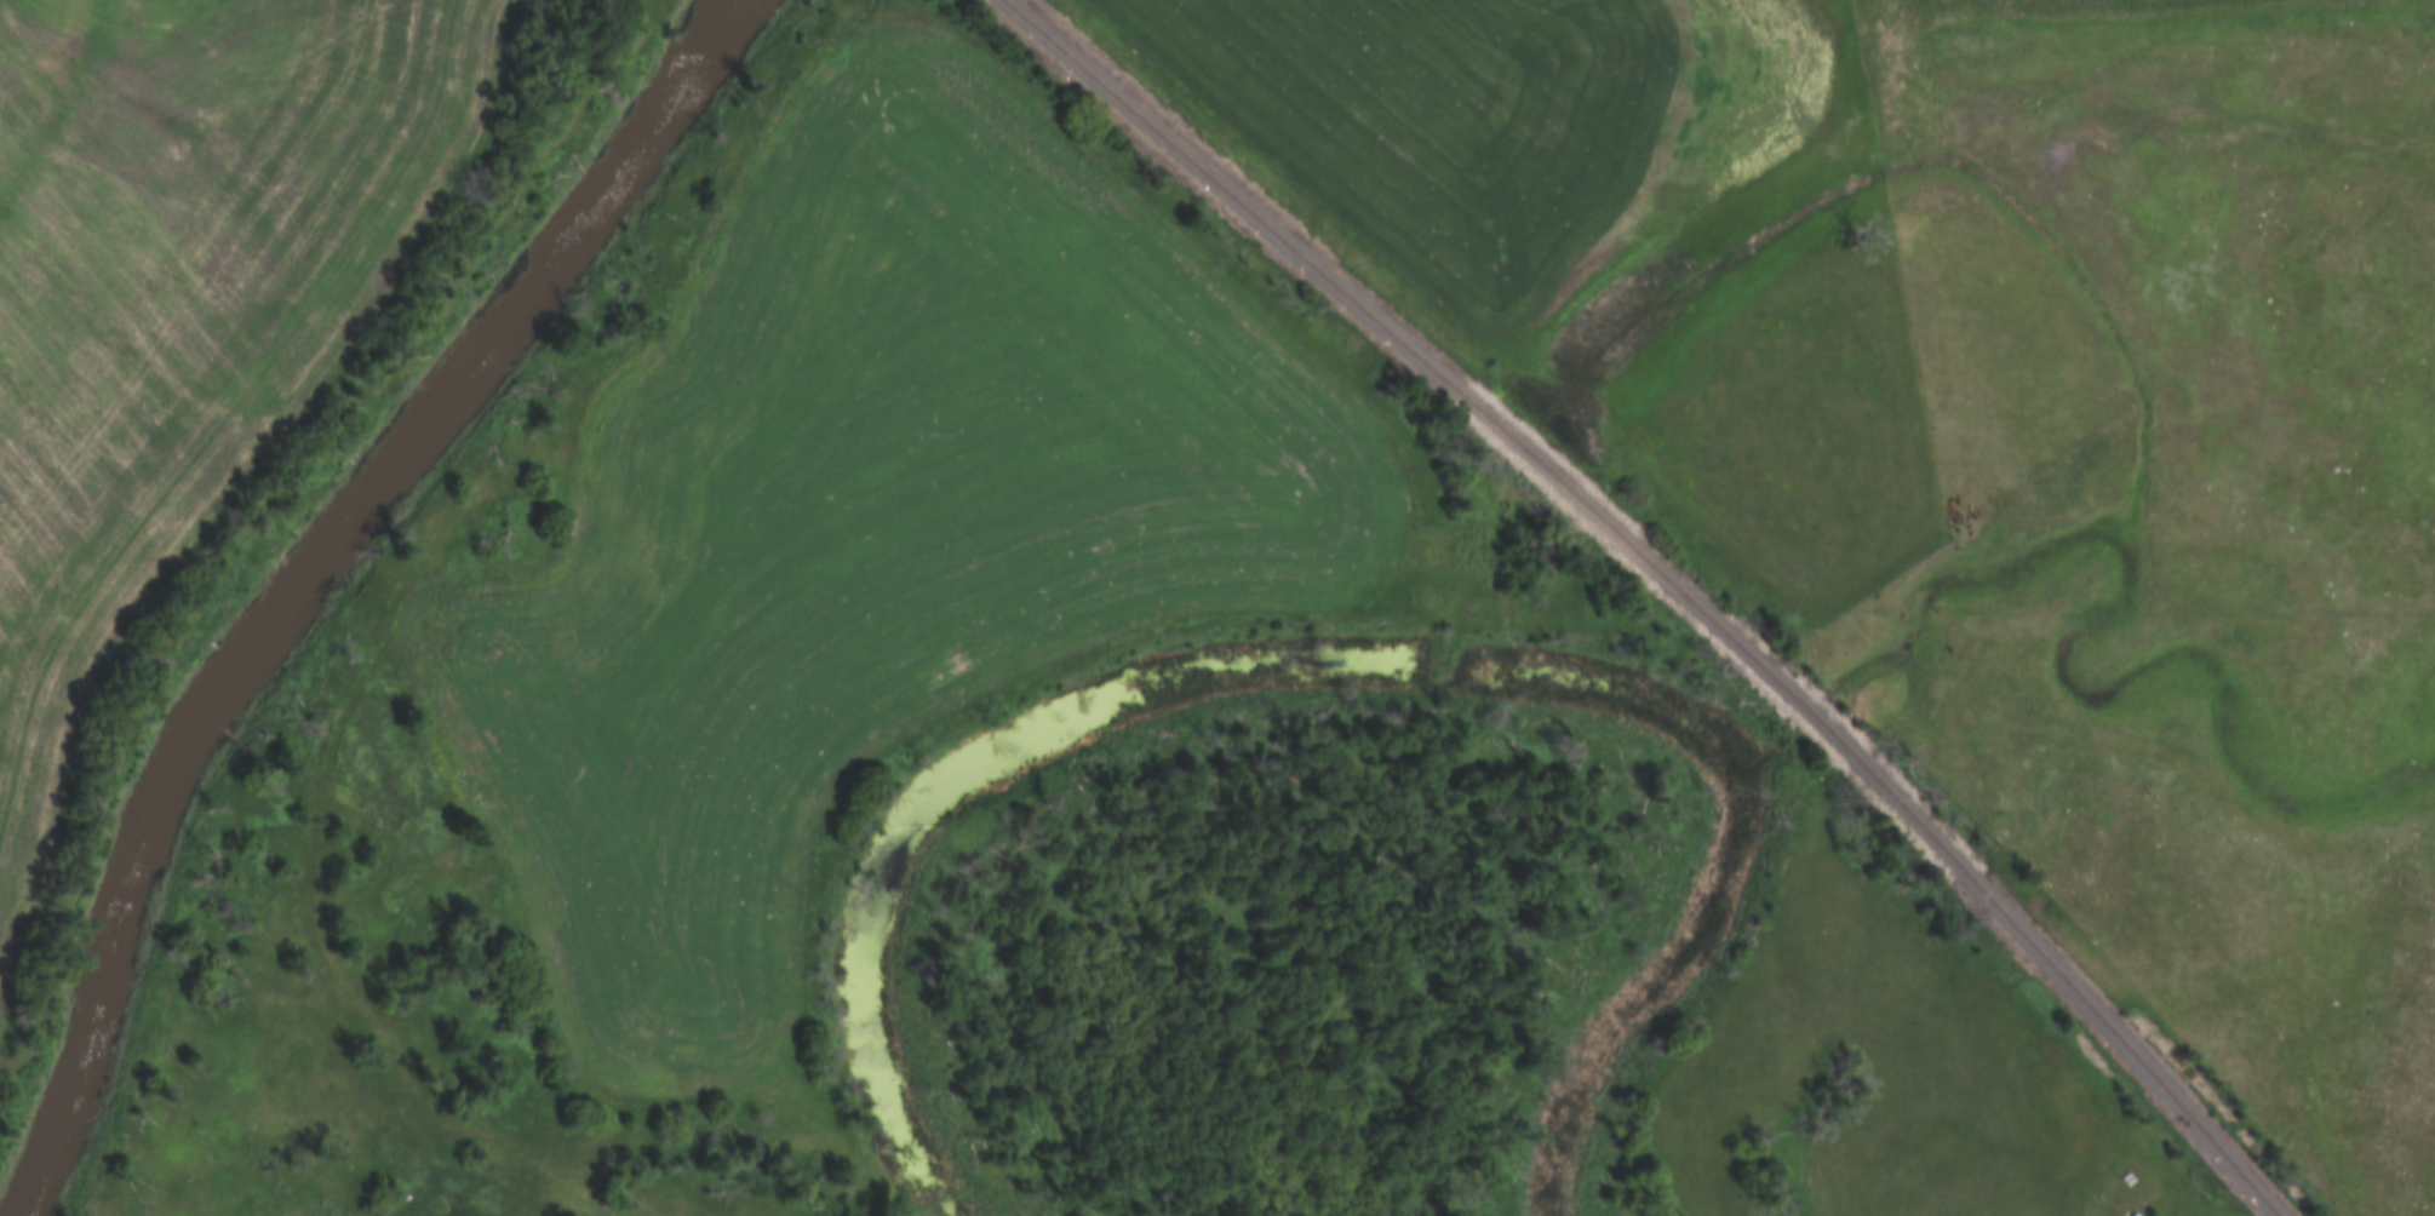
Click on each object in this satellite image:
road: (761, 172)
river: (317, 577)
railway: (1662, 581)

